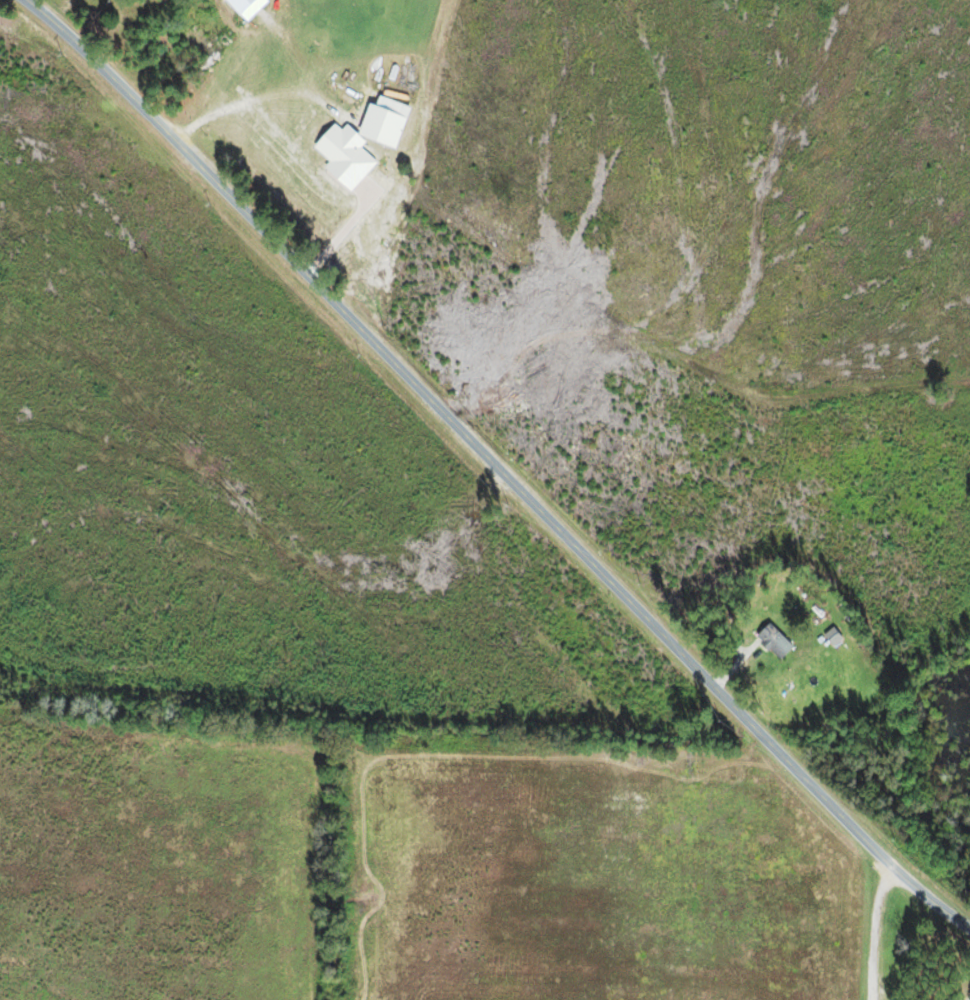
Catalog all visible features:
road: (496, 466)
building: (781, 642)
road: (876, 930)

